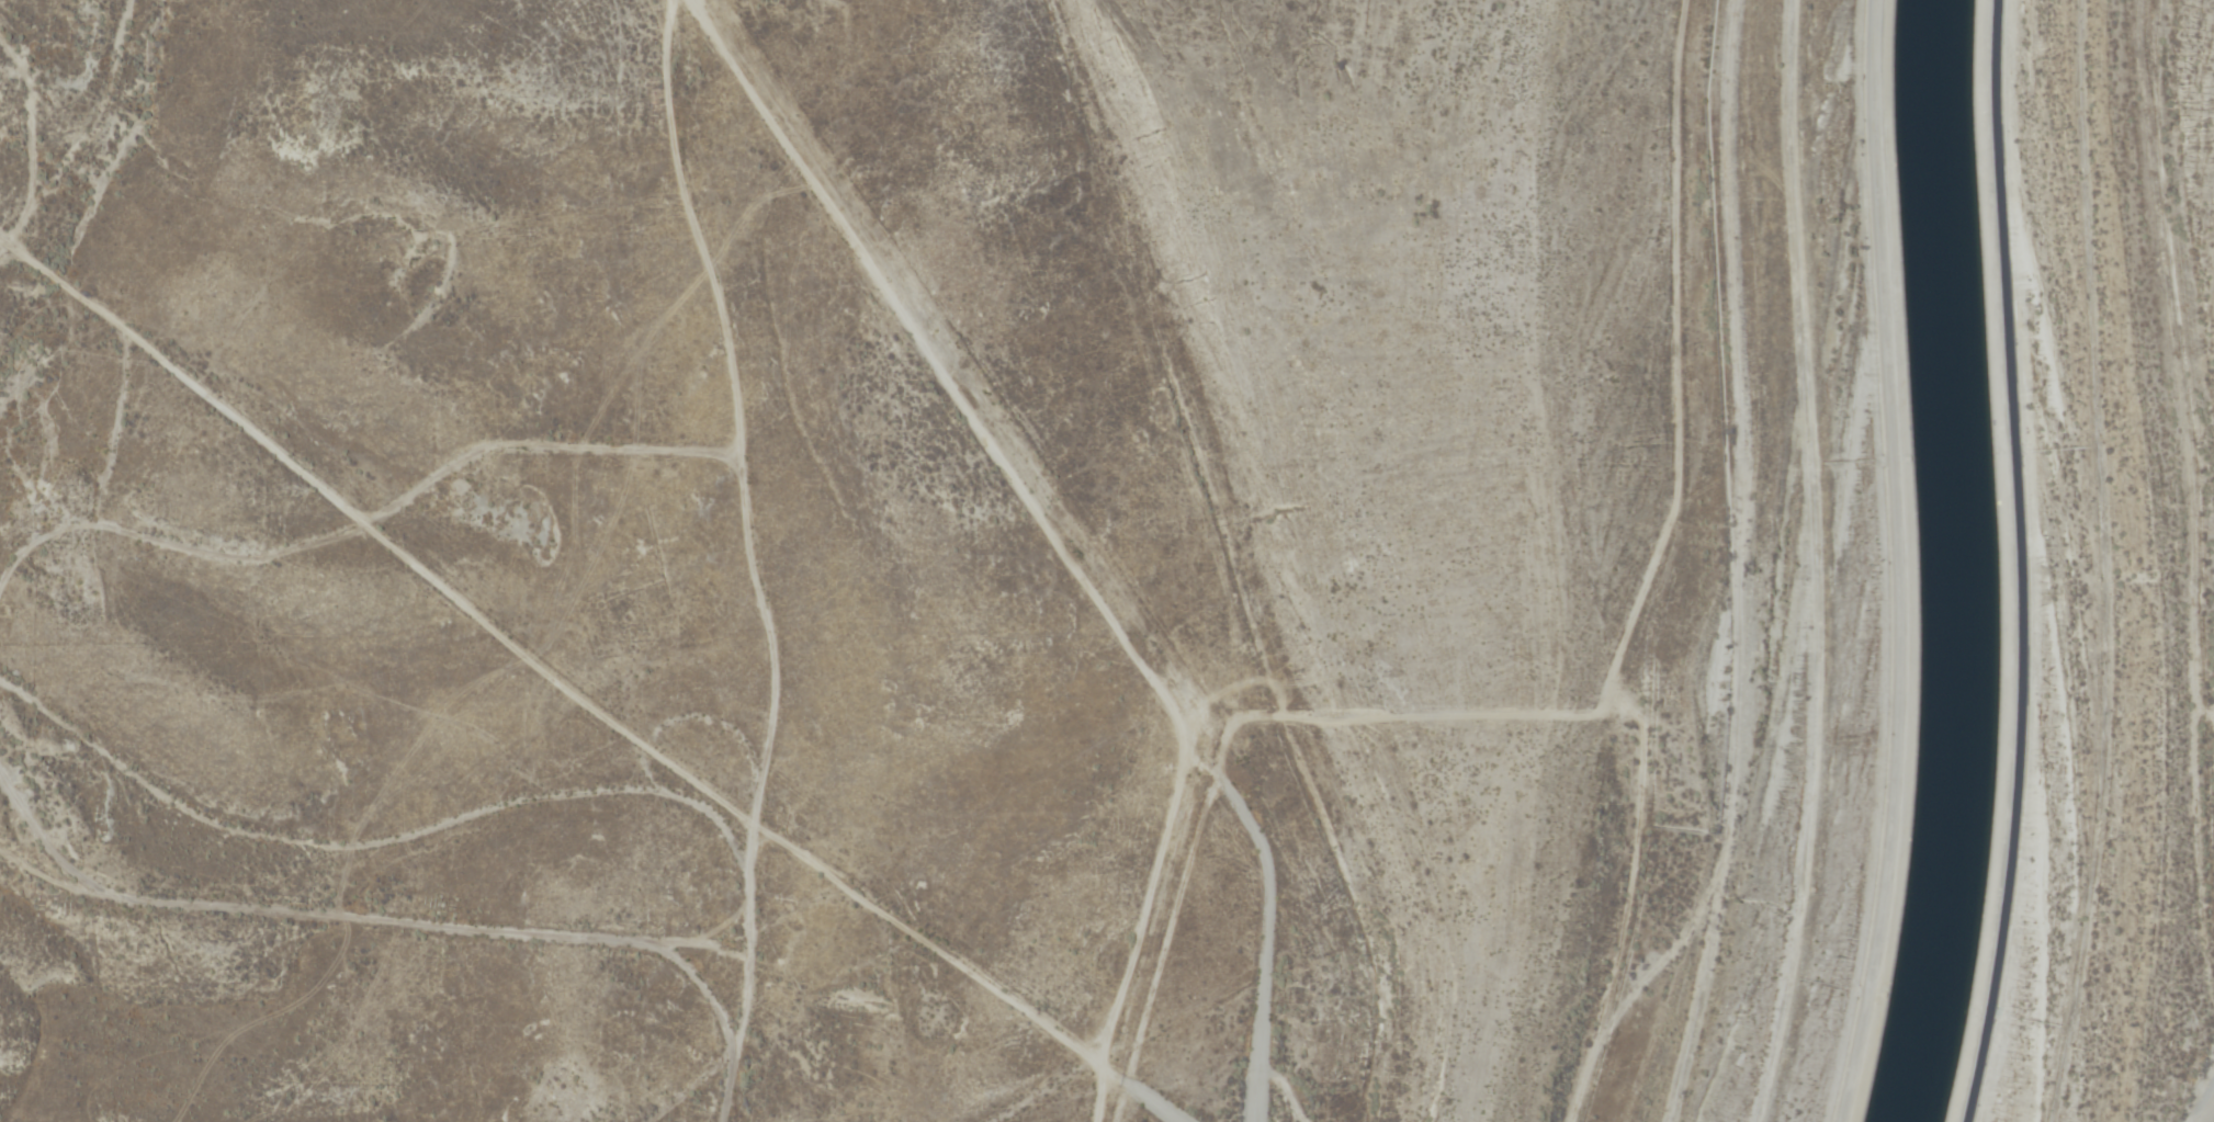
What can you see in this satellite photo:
road: (11, 295)
crop: (451, 385)
road: (954, 390)
road: (344, 524)
road: (1247, 556)
road: (371, 557)
road: (769, 562)
road: (1895, 563)
road: (2020, 563)
road: (631, 819)
road: (27, 855)
road: (403, 937)
road: (1265, 944)
road: (1076, 1101)

